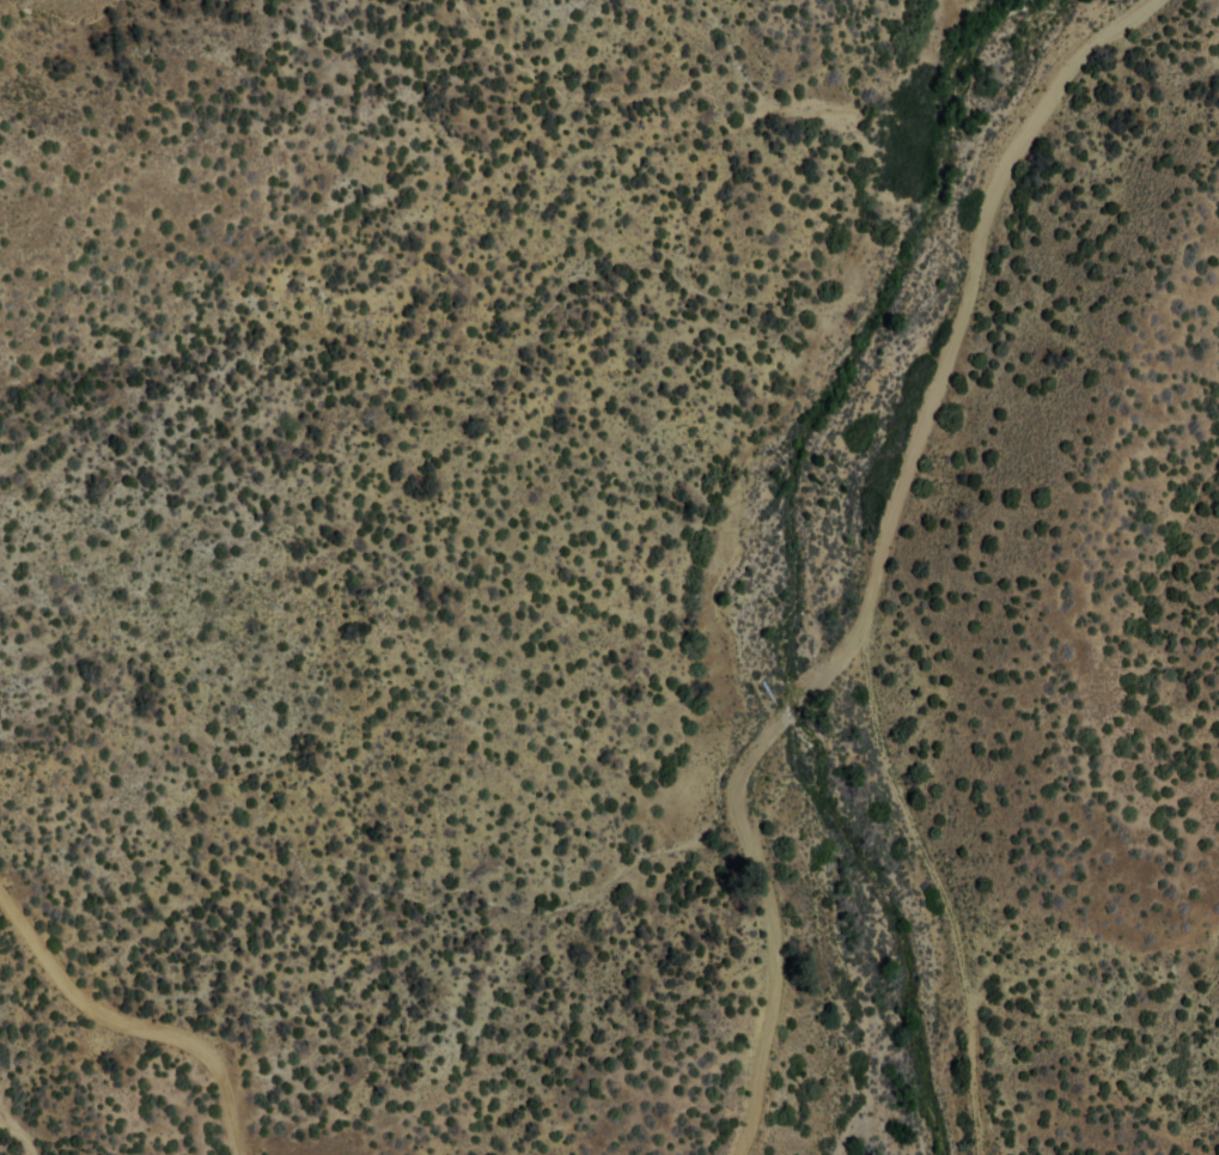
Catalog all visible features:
road: (871, 548)
road: (16, 1123)

